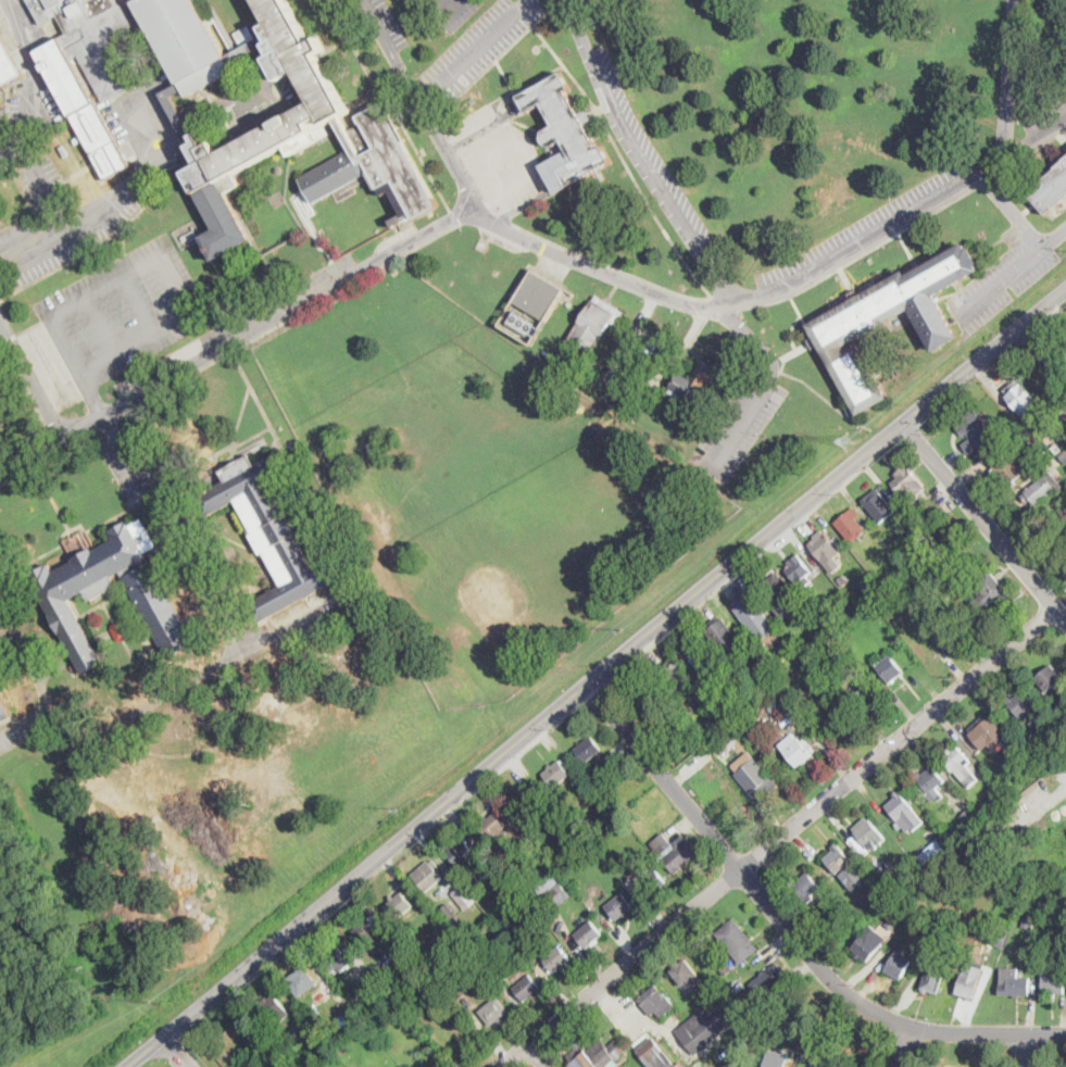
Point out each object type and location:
road: (555, 1)
road: (438, 9)
parking lot: (447, 11)
parking lot: (384, 24)
parking lot: (479, 45)
road: (473, 50)
road: (493, 62)
building: (5, 65)
building: (89, 68)
road: (34, 81)
road: (1008, 87)
road: (230, 101)
parking lot: (33, 103)
road: (171, 116)
parking lot: (478, 116)
building: (276, 117)
parking lot: (1046, 121)
road: (481, 128)
building: (564, 133)
road: (176, 134)
parking lot: (645, 151)
road: (642, 154)
road: (624, 159)
parking lot: (502, 165)
parking lot: (38, 181)
road: (41, 181)
building: (1050, 189)
road: (109, 198)
road: (518, 206)
road: (1009, 209)
building: (189, 235)
parking lot: (858, 235)
road: (1052, 235)
road: (856, 256)
road: (612, 265)
parking lot: (1002, 276)
road: (172, 277)
road: (996, 281)
building: (540, 294)
road: (666, 298)
parking lot: (277, 300)
road: (140, 301)
parking lot: (122, 311)
building: (882, 319)
building: (523, 322)
road: (102, 323)
building: (594, 323)
road: (236, 338)
road: (751, 339)
building: (1055, 364)
road: (78, 365)
road: (645, 375)
road: (30, 378)
building: (698, 381)
park: (459, 384)
park: (362, 387)
park: (422, 396)
building: (1021, 399)
building: (1058, 405)
building: (1004, 423)
road: (112, 424)
road: (735, 424)
parking lot: (737, 425)
building: (975, 427)
power tower: (848, 439)
building: (1021, 441)
building: (1057, 448)
building: (1063, 454)
building: (1006, 469)
park: (476, 481)
building: (908, 485)
parking lot: (149, 488)
building: (1042, 489)
building: (878, 505)
building: (1064, 513)
road: (985, 519)
building: (955, 522)
building: (851, 525)
park: (509, 530)
building: (273, 532)
building: (926, 543)
building: (824, 548)
building: (800, 572)
building: (842, 579)
parking lot: (3, 580)
road: (202, 580)
building: (871, 589)
building: (991, 591)
building: (342, 593)
building: (904, 594)
building: (780, 595)
building: (153, 597)
building: (754, 616)
parking lot: (291, 628)
power tower: (623, 628)
building: (118, 631)
building: (827, 633)
building: (948, 636)
building: (725, 639)
building: (814, 644)
building: (830, 656)
building: (701, 658)
building: (889, 668)
road: (593, 676)
building: (673, 676)
building: (1049, 678)
building: (856, 685)
building: (643, 695)
building: (702, 699)
building: (864, 699)
building: (1020, 704)
building: (791, 705)
building: (724, 707)
building: (3, 711)
road: (24, 721)
building: (1, 725)
road: (101, 728)
building: (986, 732)
parking lot: (15, 733)
building: (724, 742)
building: (691, 743)
building: (588, 749)
building: (798, 750)
building: (1041, 752)
building: (960, 765)
building: (595, 768)
building: (556, 774)
building: (1054, 776)
building: (931, 783)
building: (761, 786)
building: (1002, 793)
building: (526, 801)
power tower: (397, 806)
building: (989, 808)
building: (904, 813)
building: (971, 819)
building: (492, 827)
building: (869, 832)
road: (781, 839)
building: (916, 839)
building: (661, 843)
building: (858, 845)
building: (459, 850)
building: (931, 850)
building: (680, 854)
building: (839, 859)
building: (639, 865)
building: (542, 869)
building: (887, 871)
building: (427, 876)
building: (653, 882)
building: (895, 882)
building: (805, 886)
building: (1039, 886)
building: (554, 891)
building: (466, 899)
building: (523, 903)
building: (399, 905)
building: (619, 907)
building: (449, 911)
building: (892, 922)
building: (473, 924)
building: (1029, 924)
building: (1058, 924)
road: (787, 927)
building: (369, 929)
building: (589, 934)
building: (1000, 937)
building: (737, 941)
building: (868, 942)
building: (707, 952)
building: (724, 957)
building: (337, 958)
building: (557, 959)
building: (943, 959)
building: (490, 964)
building: (898, 965)
building: (726, 967)
building: (684, 972)
building: (373, 977)
building: (772, 978)
building: (932, 979)
building: (969, 979)
building: (301, 981)
building: (1013, 982)
building: (1053, 983)
building: (527, 988)
power tower: (162, 1001)
building: (656, 1002)
building: (274, 1008)
building: (493, 1010)
building: (706, 1025)
building: (779, 1028)
road: (905, 1046)
building: (814, 1047)
road: (1030, 1050)
road: (177, 1051)
building: (595, 1054)
building: (654, 1054)
road: (539, 1055)
building: (804, 1055)
building: (777, 1058)
building: (737, 1063)
building: (814, 1066)

